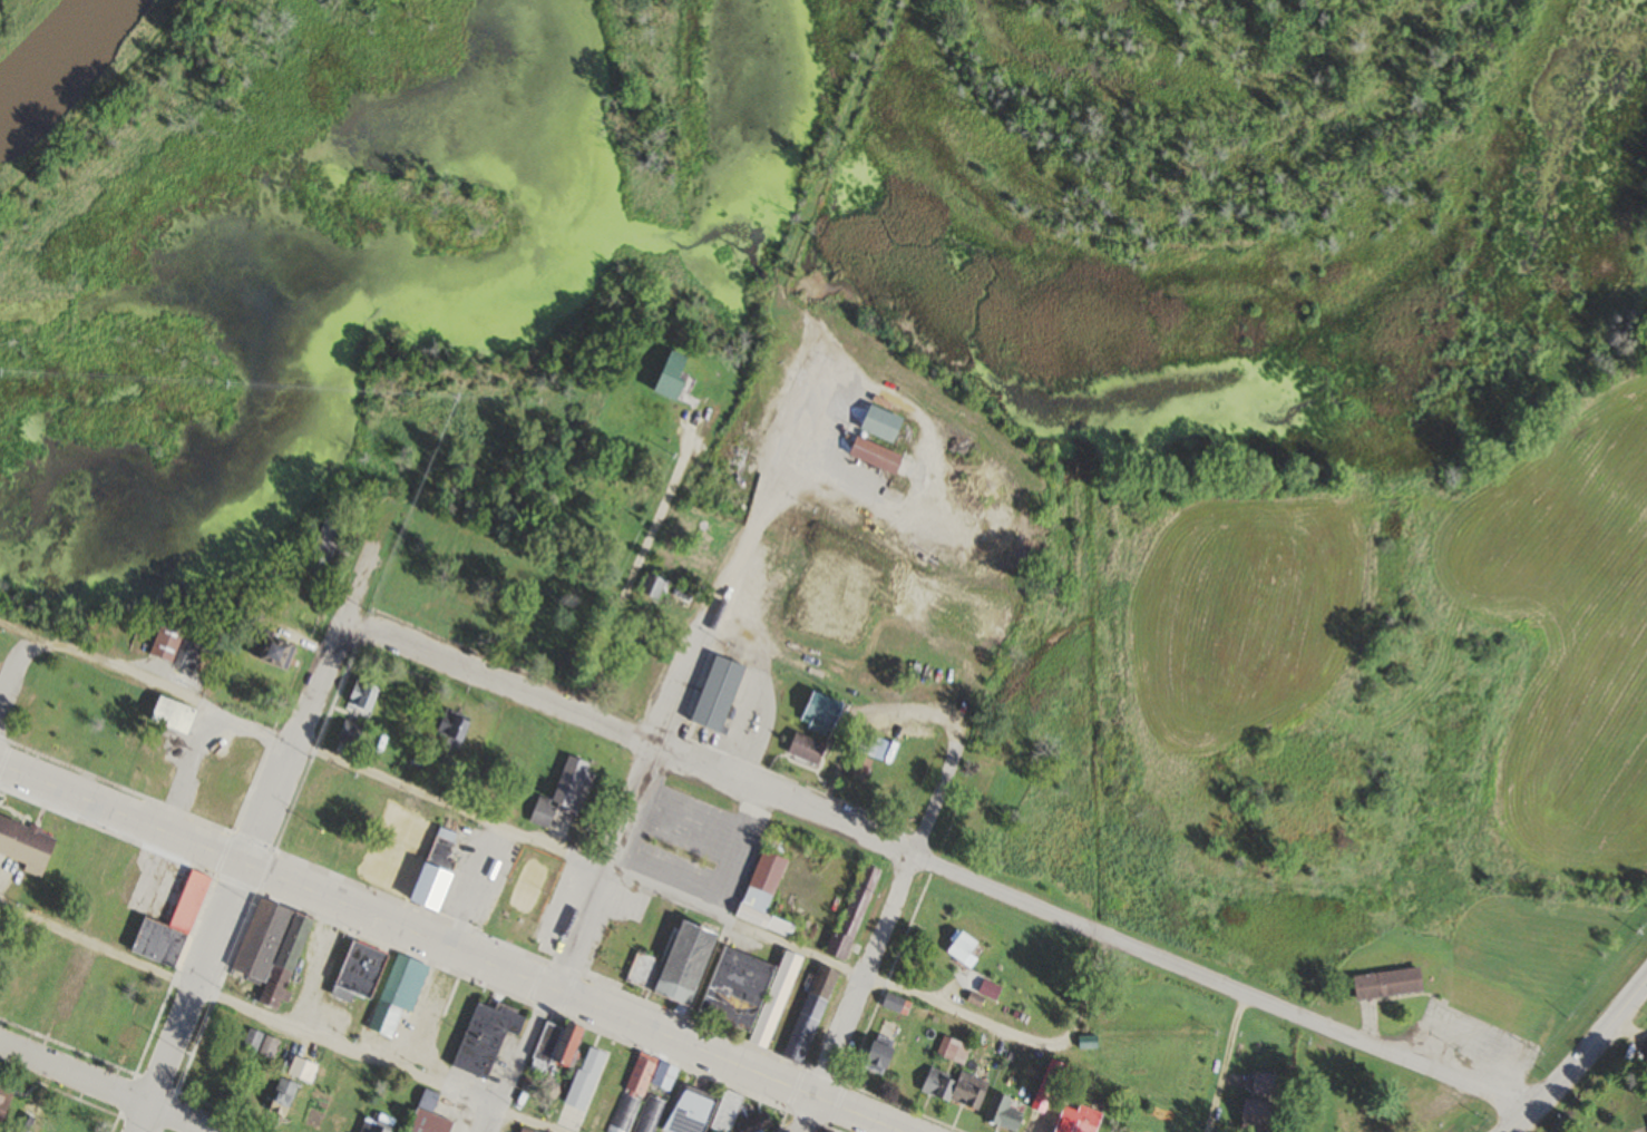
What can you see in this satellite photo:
river: (55, 59)
building: (667, 378)
building: (878, 424)
building: (873, 456)
building: (323, 539)
road: (640, 567)
building: (652, 584)
crop: (1352, 623)
building: (173, 644)
building: (272, 650)
road: (135, 675)
building: (714, 692)
building: (360, 694)
building: (819, 707)
building: (169, 715)
building: (448, 728)
building: (349, 733)
road: (626, 736)
building: (867, 743)
road: (650, 746)
building: (802, 748)
building: (858, 767)
building: (158, 771)
building: (217, 775)
building: (561, 792)
building: (216, 807)
building: (306, 832)
road: (257, 837)
building: (23, 847)
building: (407, 858)
building: (351, 860)
building: (525, 892)
building: (761, 894)
building: (851, 911)
road: (729, 923)
building: (157, 925)
road: (880, 925)
building: (958, 947)
road: (446, 949)
building: (269, 950)
building: (617, 954)
building: (682, 962)
building: (357, 972)
building: (401, 983)
road: (1218, 984)
building: (1384, 984)
building: (987, 989)
building: (747, 993)
building: (1470, 996)
building: (61, 1003)
building: (893, 1003)
building: (808, 1014)
road: (275, 1019)
building: (234, 1034)
building: (484, 1036)
building: (563, 1042)
building: (259, 1044)
building: (875, 1053)
road: (1581, 1057)
road: (1222, 1063)
building: (628, 1072)
building: (662, 1075)
building: (211, 1076)
building: (583, 1077)
building: (1264, 1084)
building: (953, 1087)
road: (104, 1089)
building: (280, 1097)
building: (0, 1110)
road: (1430, 1110)
building: (686, 1111)
building: (724, 1111)
building: (1000, 1112)
building: (426, 1114)
building: (623, 1114)
road: (802, 1114)
building: (1254, 1115)
building: (1072, 1120)
building: (372, 1126)
building: (525, 1129)

